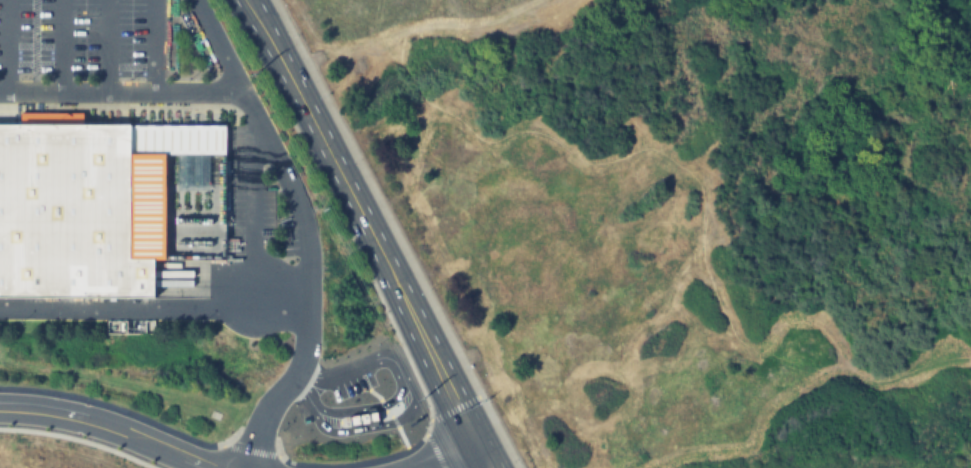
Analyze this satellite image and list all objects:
road: (358, 42)
road: (8, 46)
road: (62, 47)
road: (106, 47)
road: (154, 47)
road: (220, 48)
power tower: (257, 72)
road: (282, 165)
road: (679, 166)
building: (104, 204)
park: (667, 218)
road: (374, 233)
road: (398, 233)
road: (155, 308)
power tower: (424, 398)
road: (108, 426)
traffic signals: (489, 451)
road: (465, 459)

